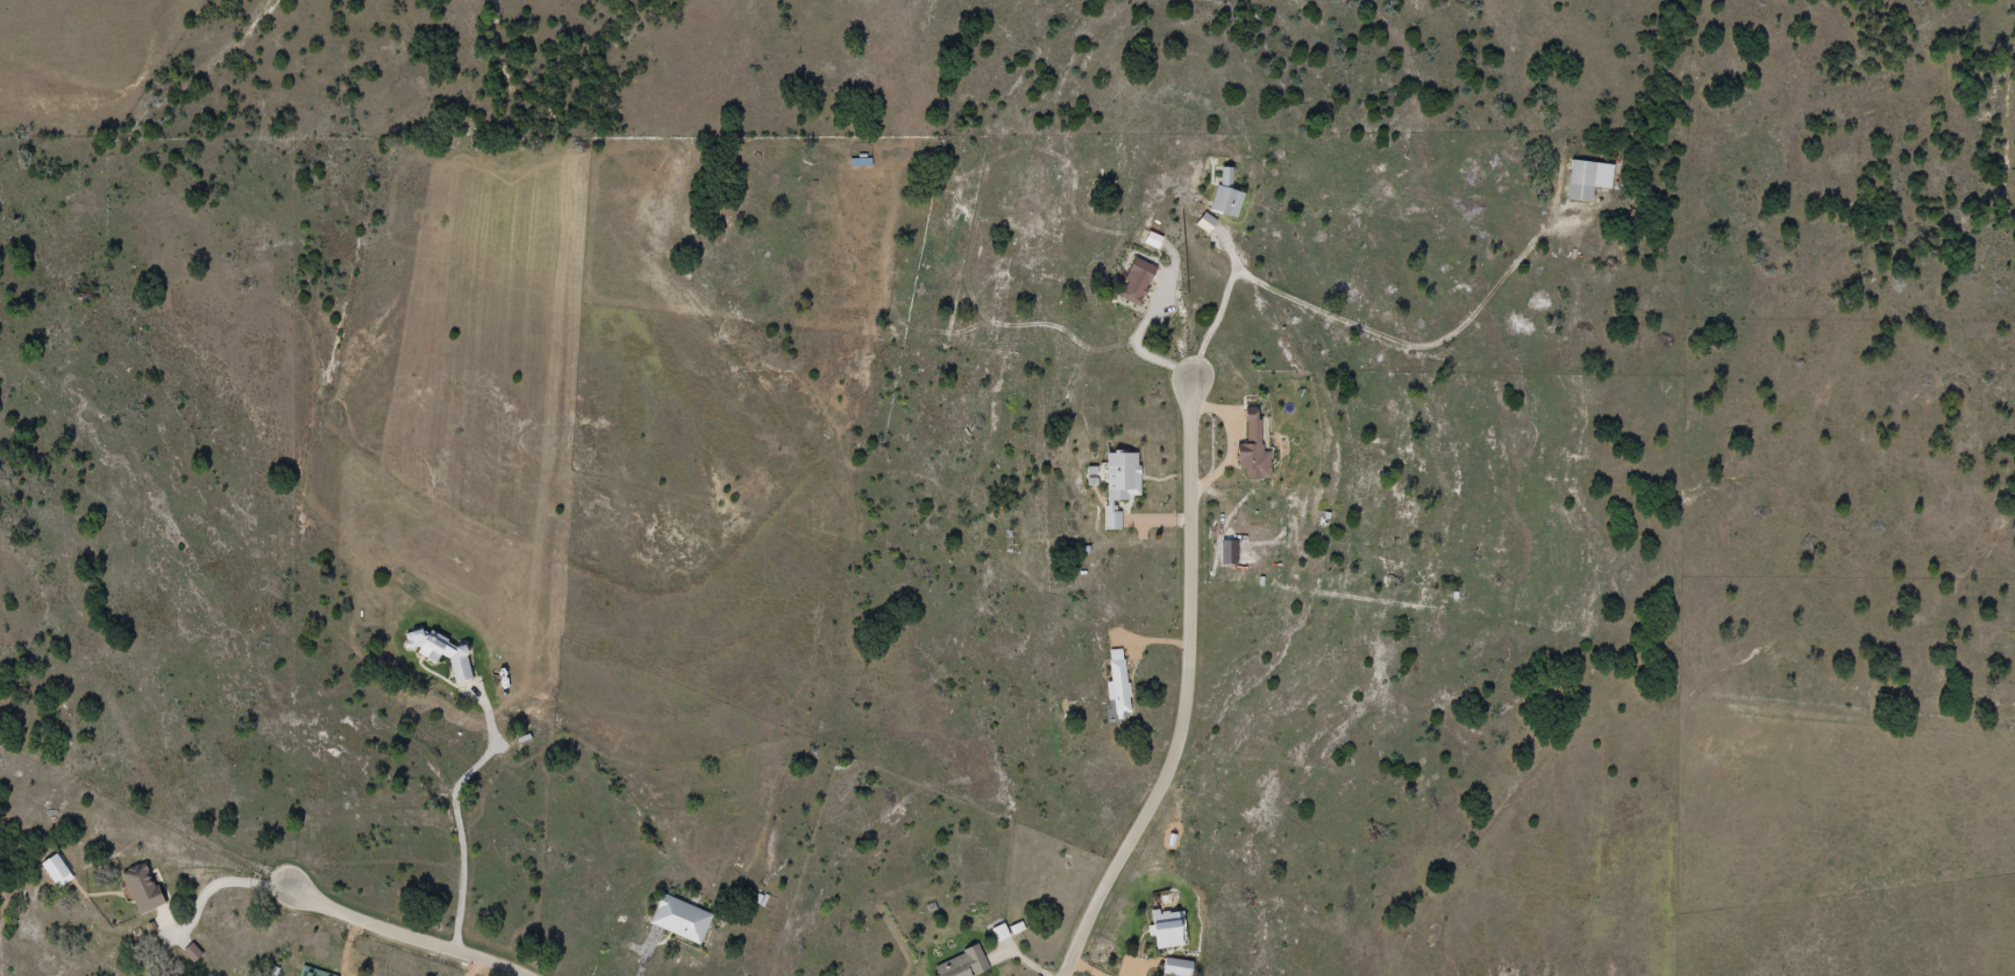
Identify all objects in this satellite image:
building: (1587, 181)
building: (1225, 196)
road: (1222, 310)
road: (1178, 337)
building: (1119, 484)
building: (447, 656)
road: (1186, 691)
road: (94, 840)
building: (143, 890)
building: (681, 920)
building: (1162, 930)
building: (1000, 934)
road: (402, 935)
building: (963, 965)
building: (1175, 968)
building: (313, 973)

